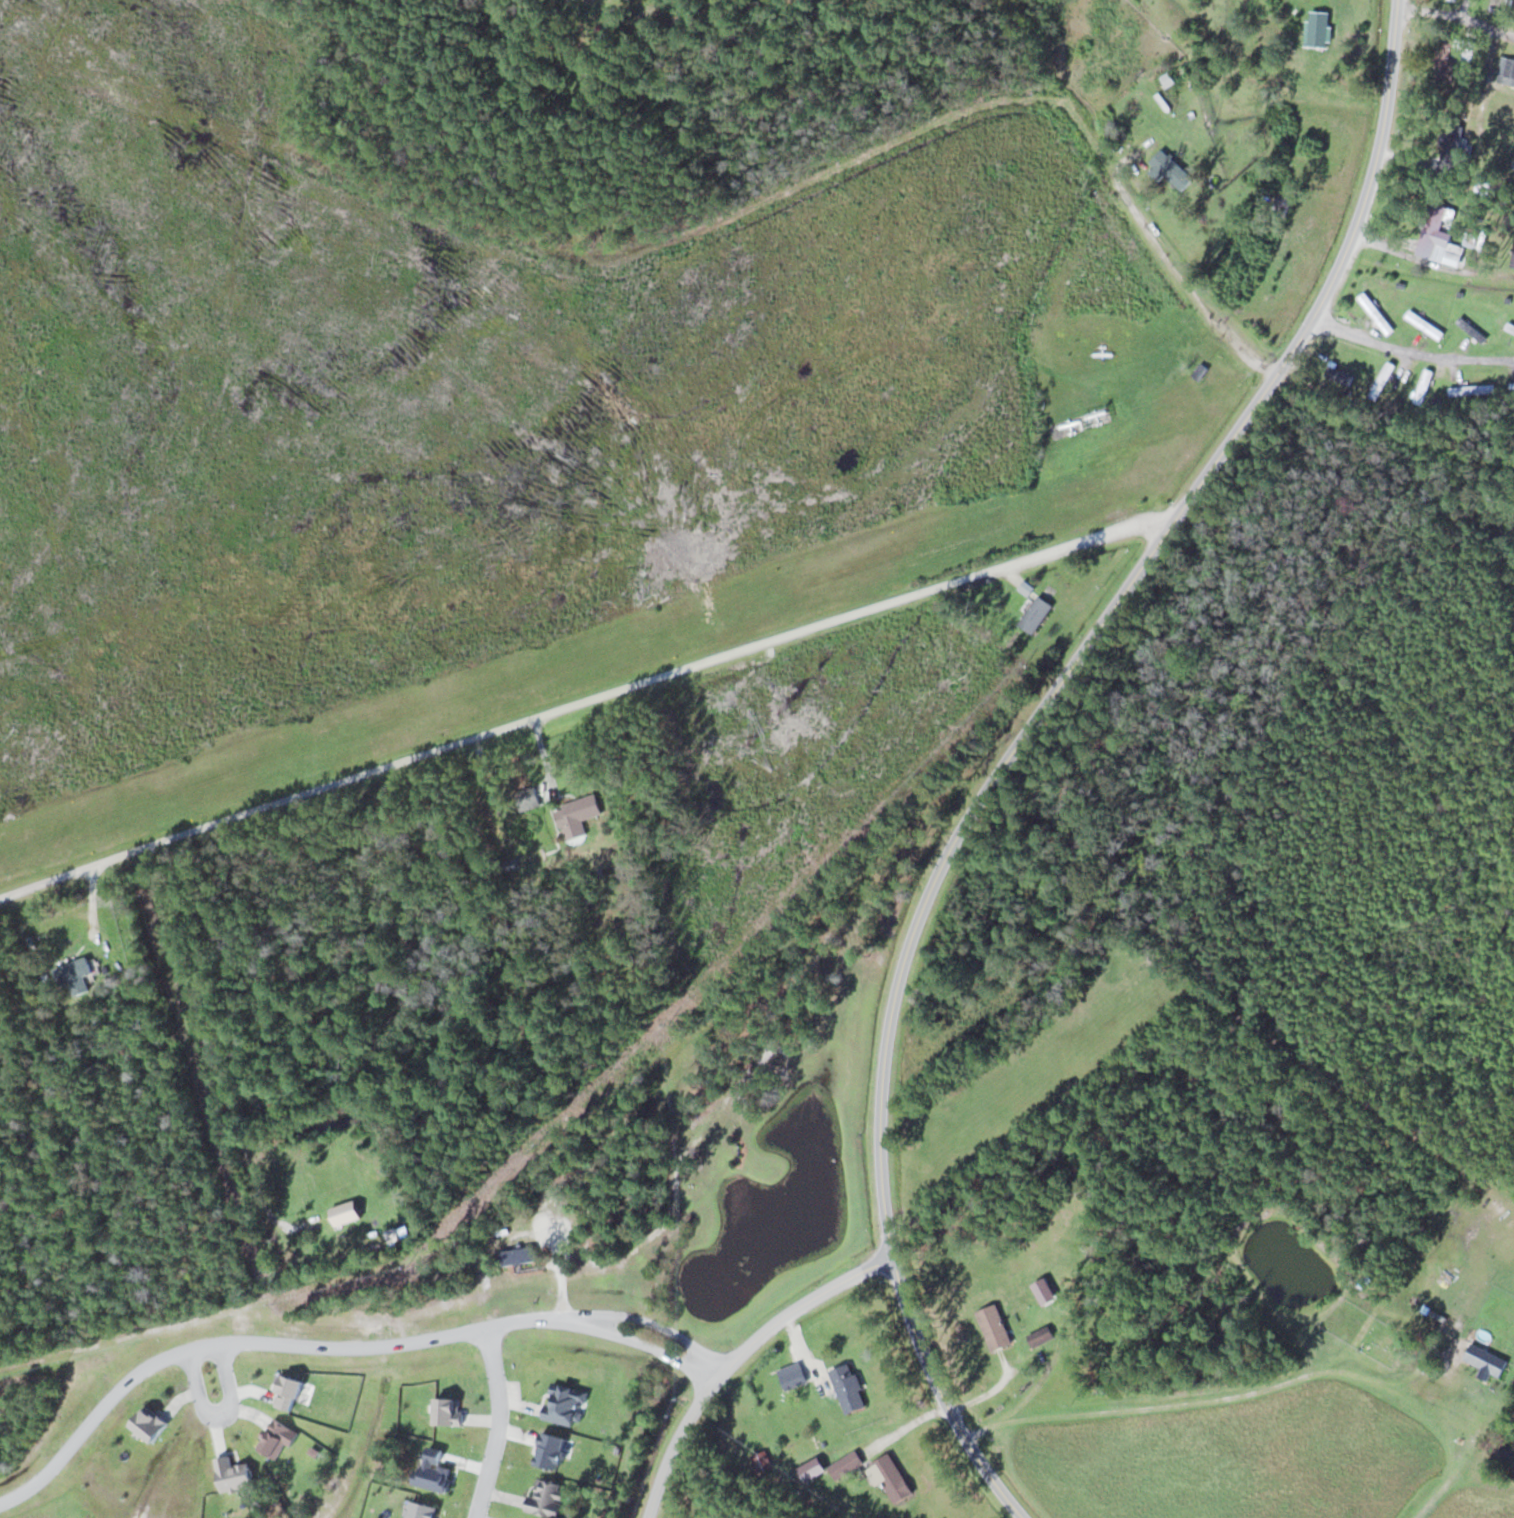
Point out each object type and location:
building: (1318, 28)
building: (1506, 71)
building: (1171, 171)
road: (828, 176)
building: (1436, 238)
building: (1375, 313)
building: (1424, 324)
building: (1510, 326)
building: (1471, 330)
building: (1338, 375)
building: (1381, 380)
building: (1423, 386)
building: (1512, 389)
building: (1471, 390)
building: (1096, 417)
building: (1038, 609)
road: (1106, 620)
airport runway: (582, 660)
road: (593, 702)
building: (575, 816)
building: (73, 975)
building: (344, 1212)
building: (517, 1255)
building: (1043, 1290)
building: (993, 1326)
building: (1040, 1336)
road: (332, 1349)
road: (730, 1356)
building: (1485, 1361)
building: (791, 1376)
building: (848, 1388)
building: (285, 1392)
road: (942, 1395)
building: (445, 1412)
road: (217, 1416)
building: (147, 1423)
road: (497, 1423)
building: (761, 1461)
building: (845, 1465)
building: (432, 1470)
building: (232, 1474)
building: (889, 1477)
building: (546, 1498)
building: (419, 1510)

